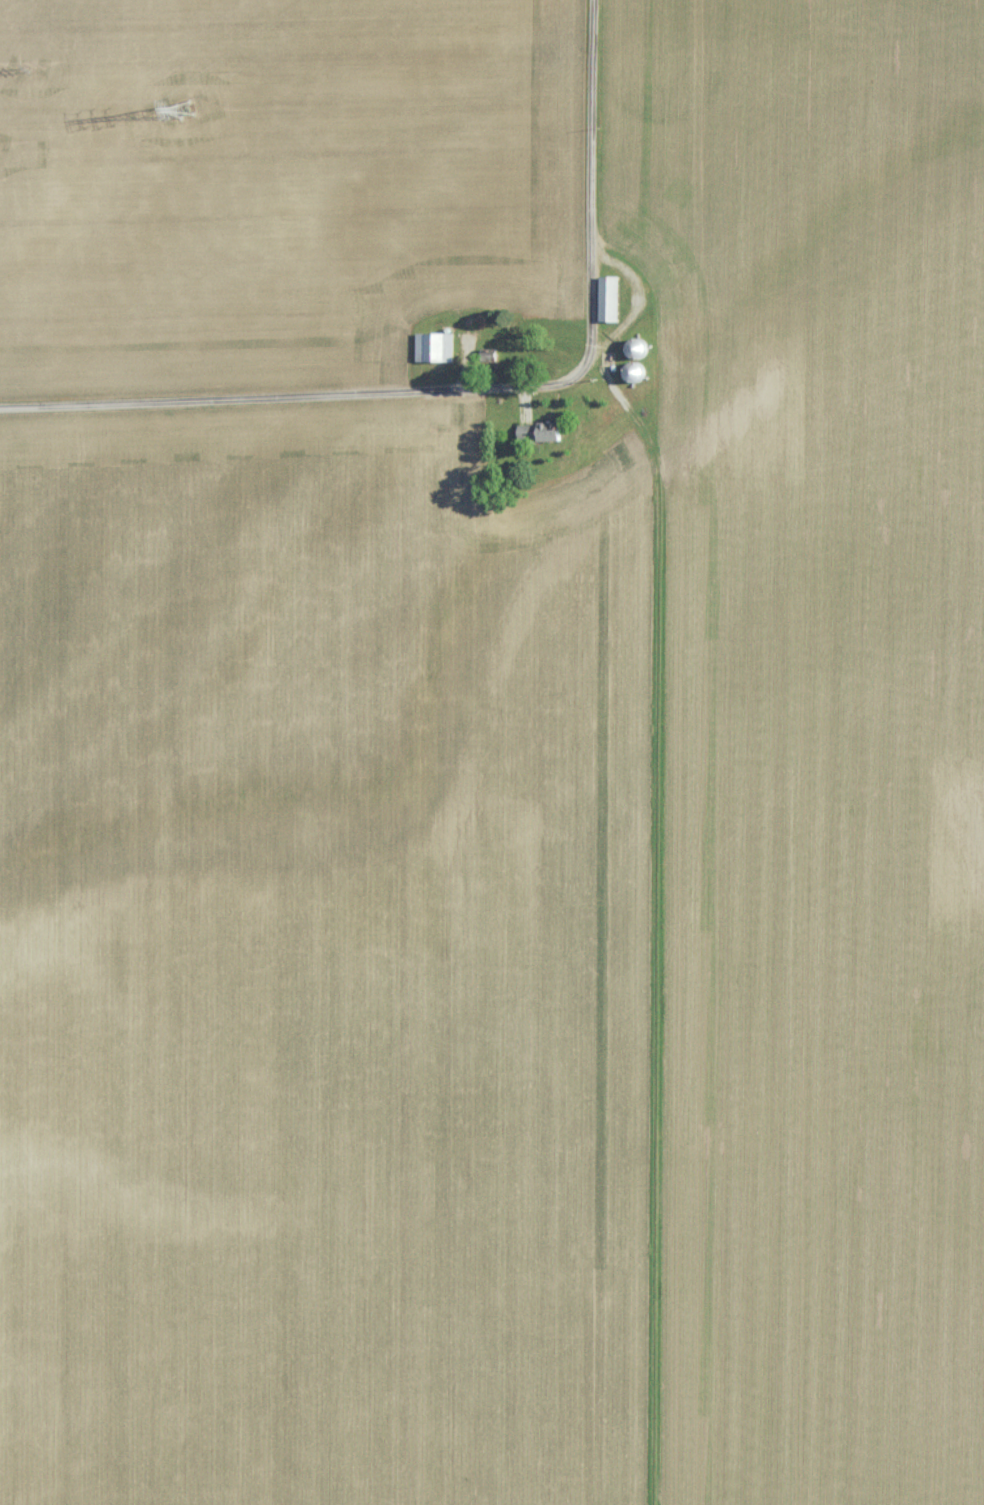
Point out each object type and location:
power tower: (182, 112)
road: (479, 387)

